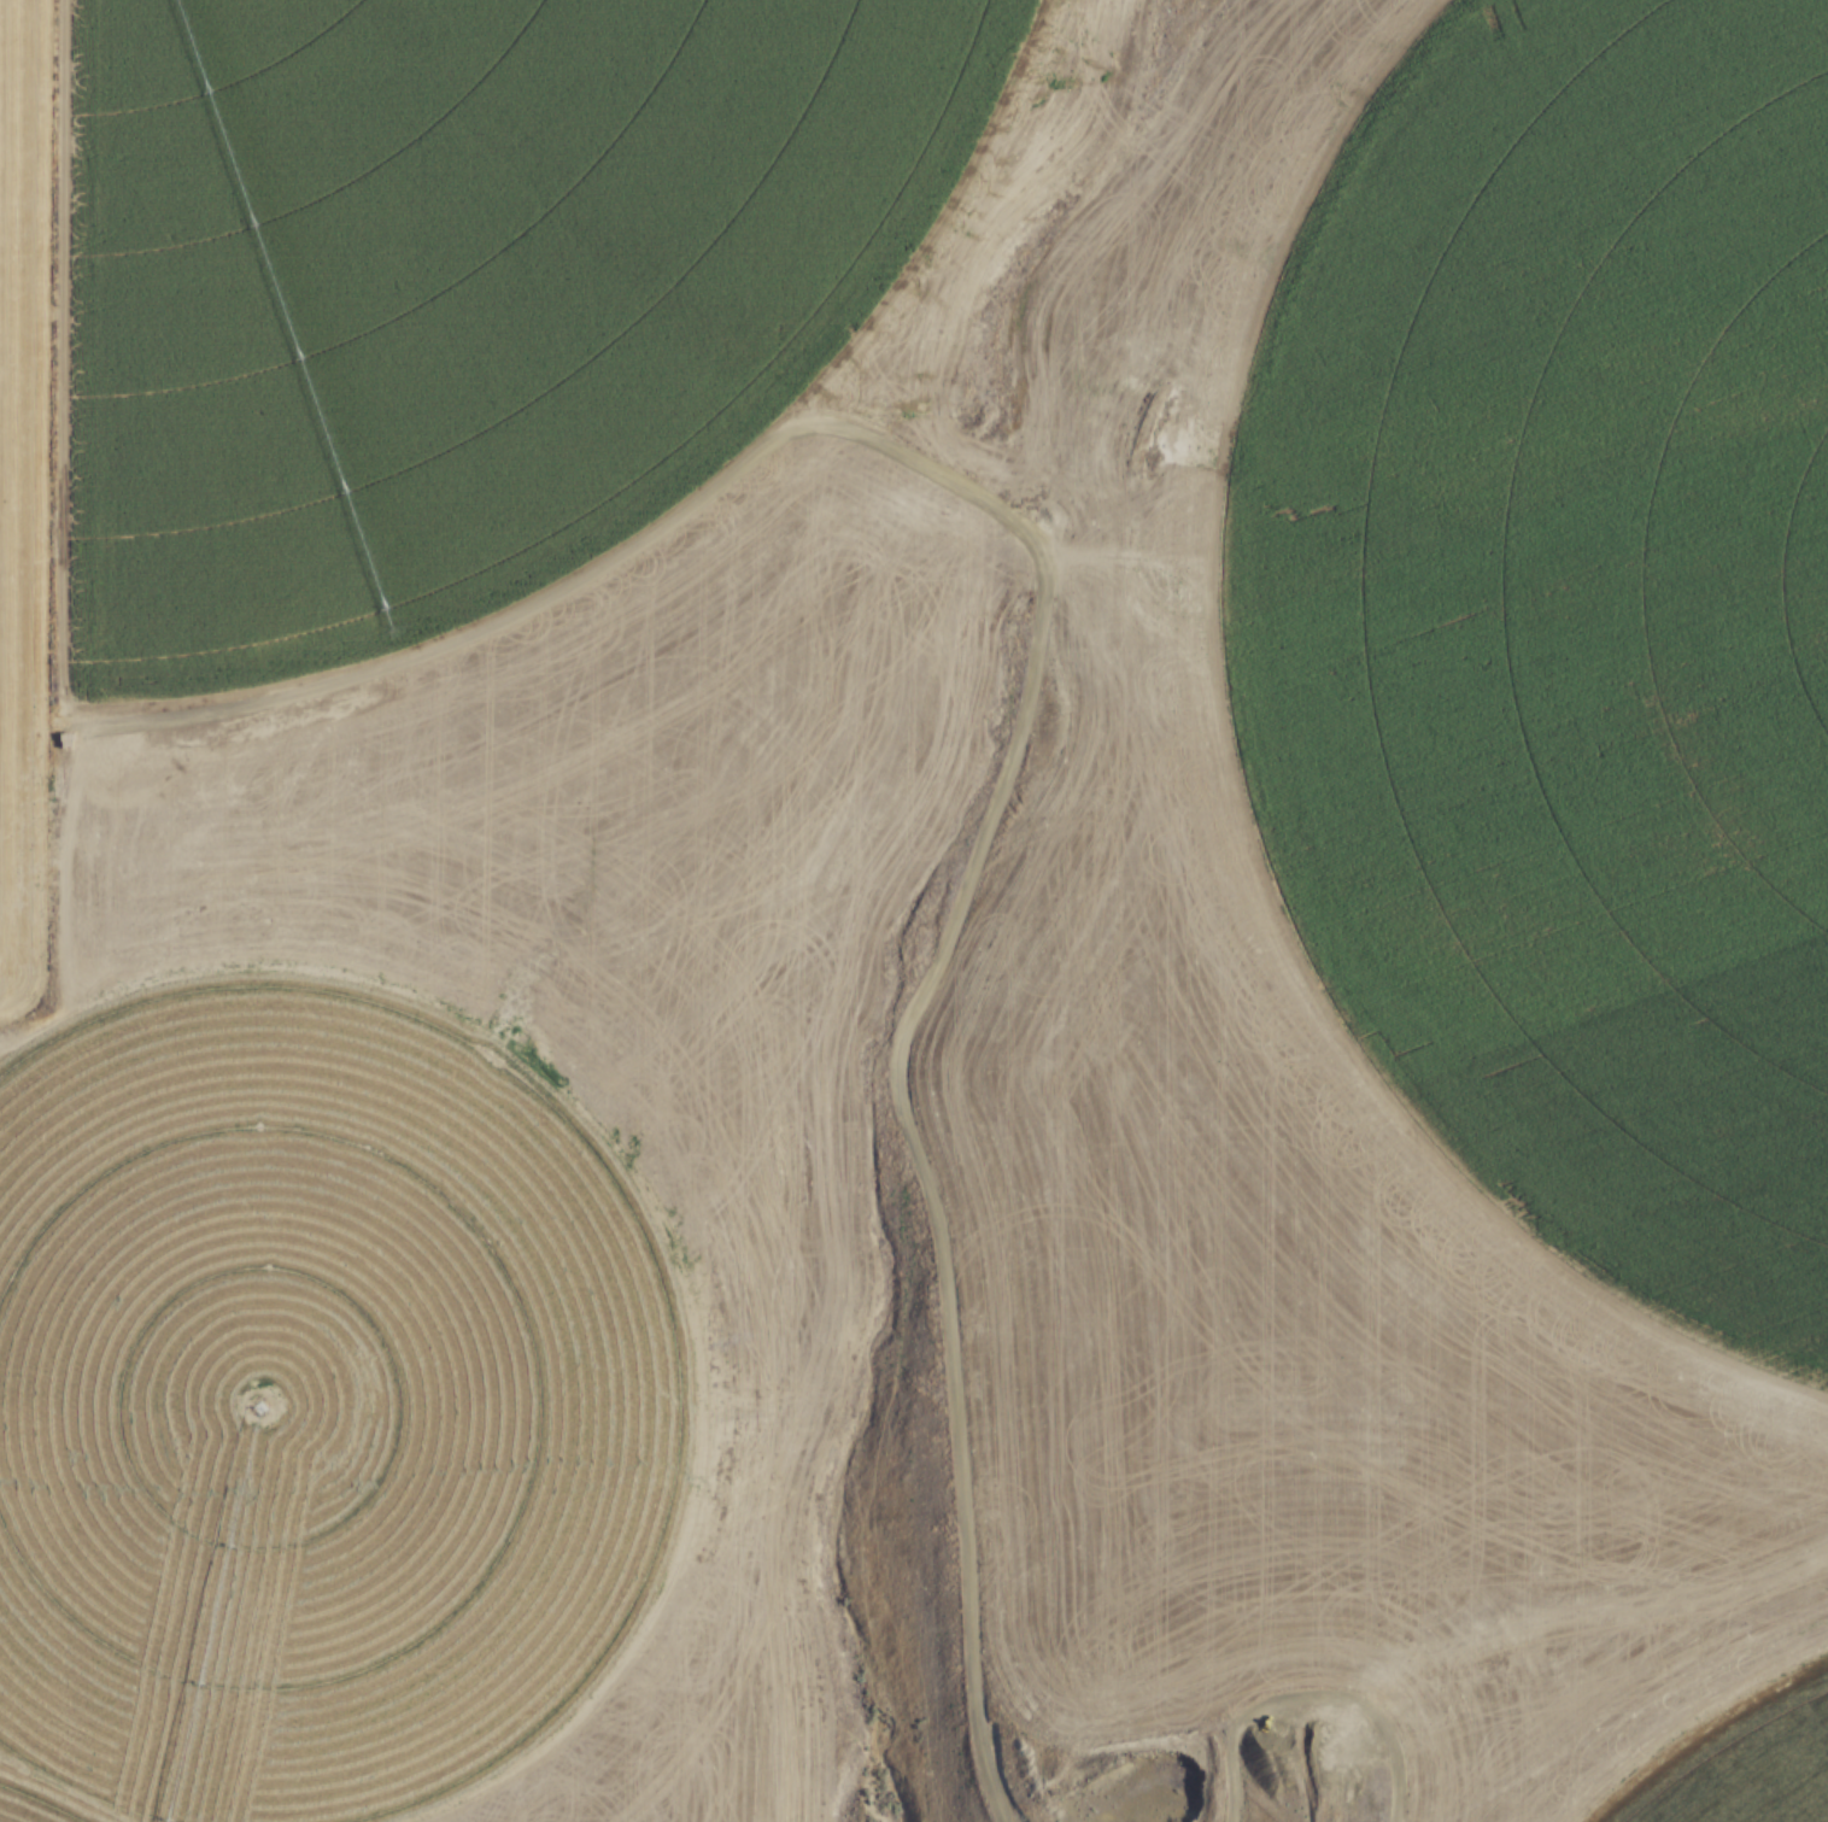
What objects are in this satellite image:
crop: (1587, 628)
crop: (333, 1406)
crop: (1759, 1776)
crop: (35, 1803)

